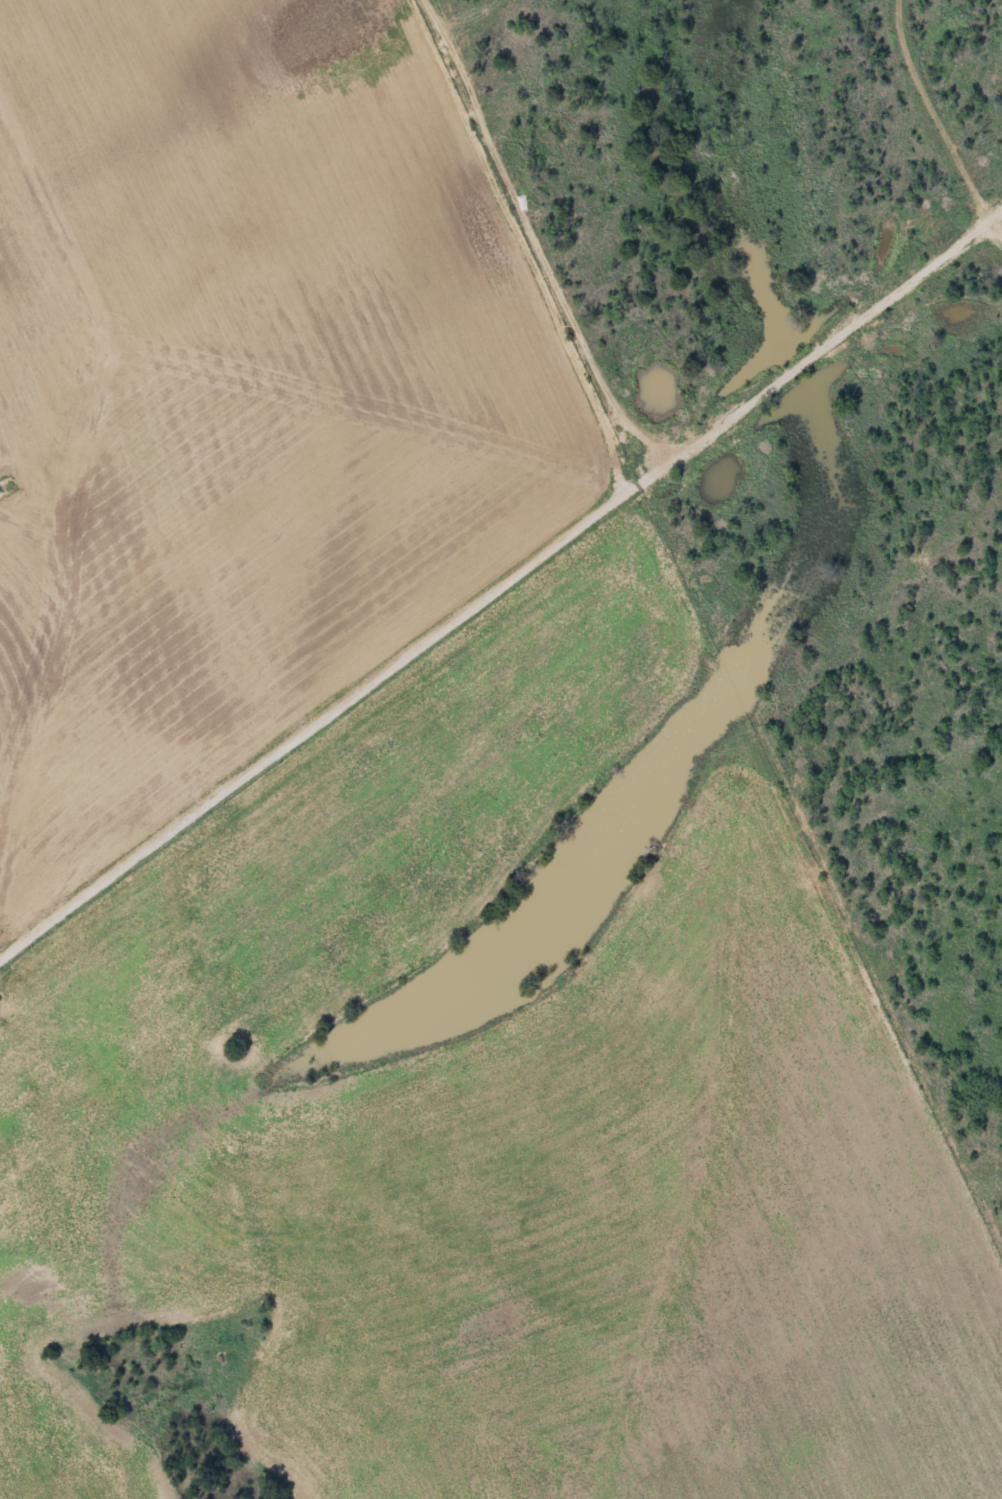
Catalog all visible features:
road: (938, 121)
railway: (501, 621)

